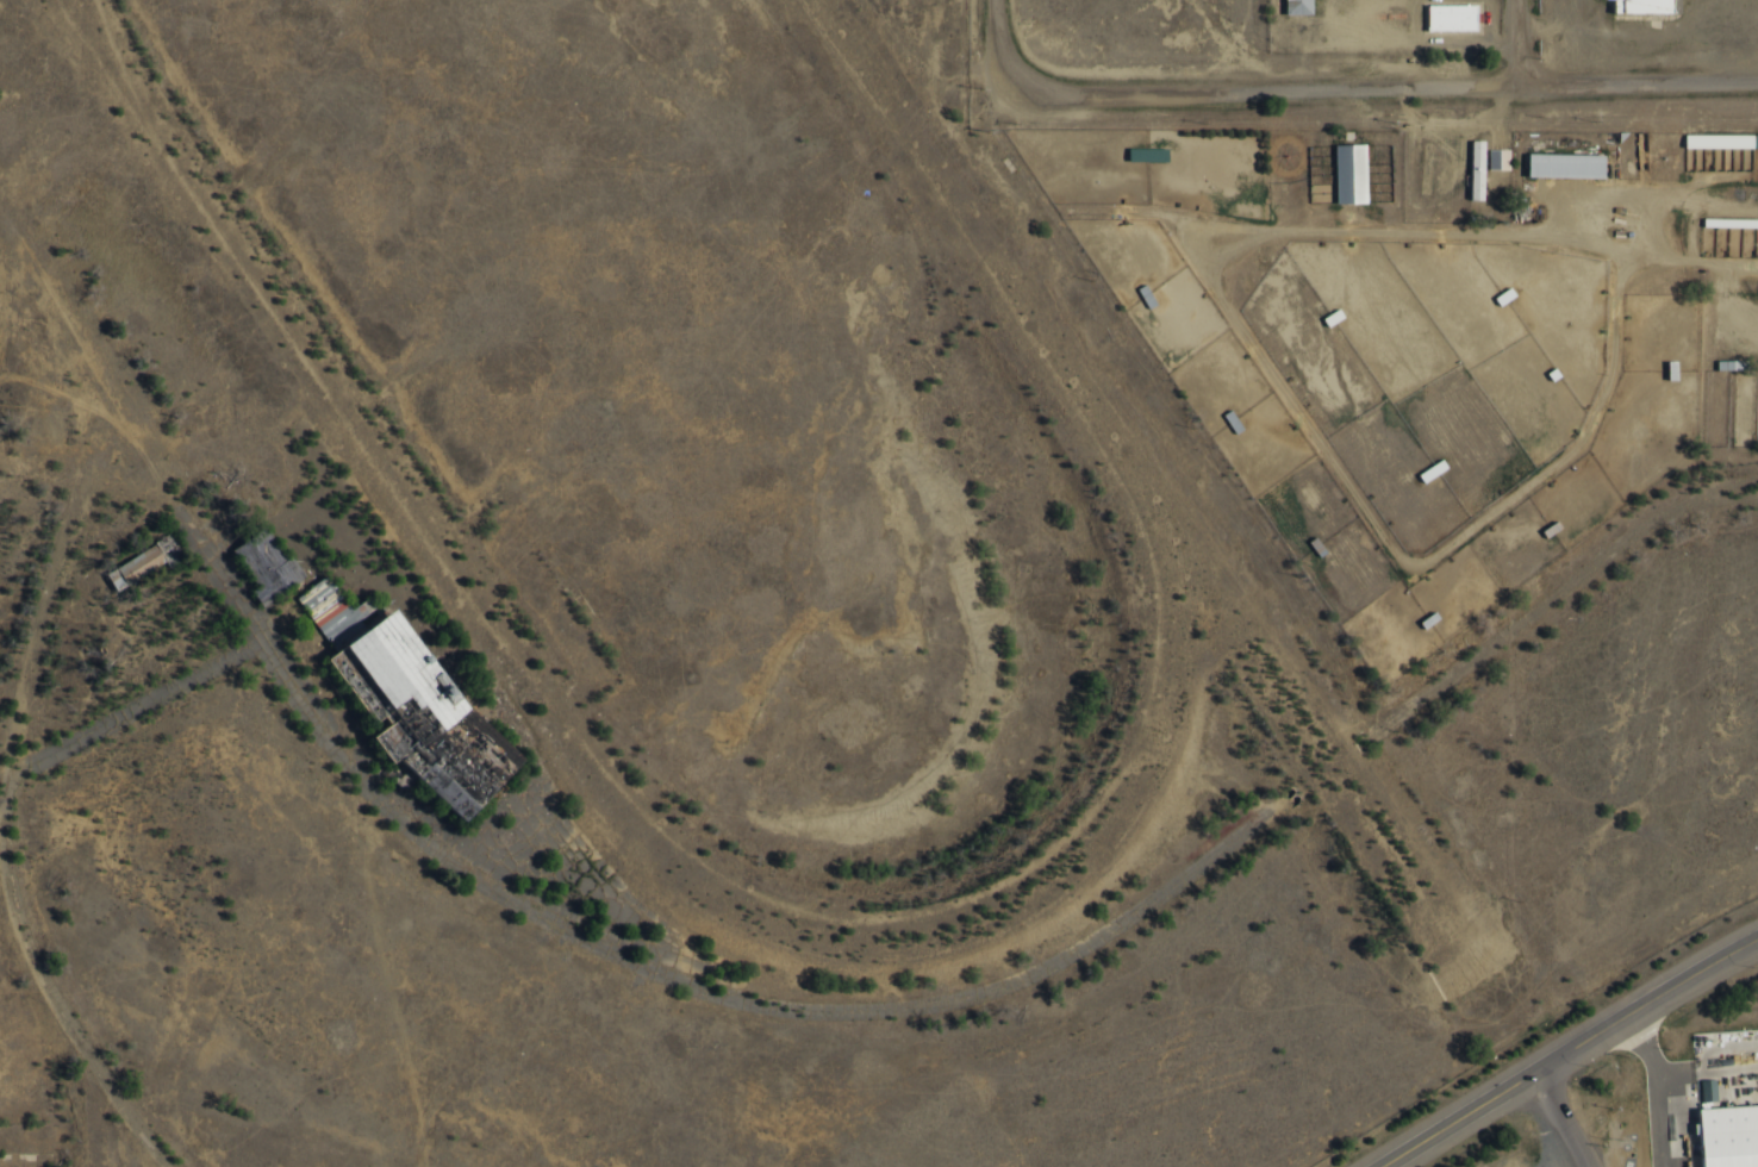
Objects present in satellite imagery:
building: (1637, 6)
building: (1299, 7)
building: (1454, 15)
road: (1002, 39)
road: (1522, 43)
park: (106, 62)
road: (1384, 91)
building: (1718, 141)
building: (1492, 158)
building: (1558, 166)
building: (1471, 170)
building: (1345, 174)
building: (1726, 218)
building: (1136, 292)
building: (1494, 292)
building: (1322, 313)
building: (1720, 361)
building: (1757, 361)
building: (1662, 366)
building: (1542, 370)
park: (699, 417)
building: (1222, 418)
building: (1421, 467)
road: (1720, 488)
building: (1541, 525)
building: (1307, 543)
road: (1560, 588)
building: (326, 607)
building: (1419, 616)
park: (1271, 685)
building: (455, 713)
road: (1566, 1049)
building: (1709, 1088)
road: (1557, 1119)
building: (1723, 1135)

